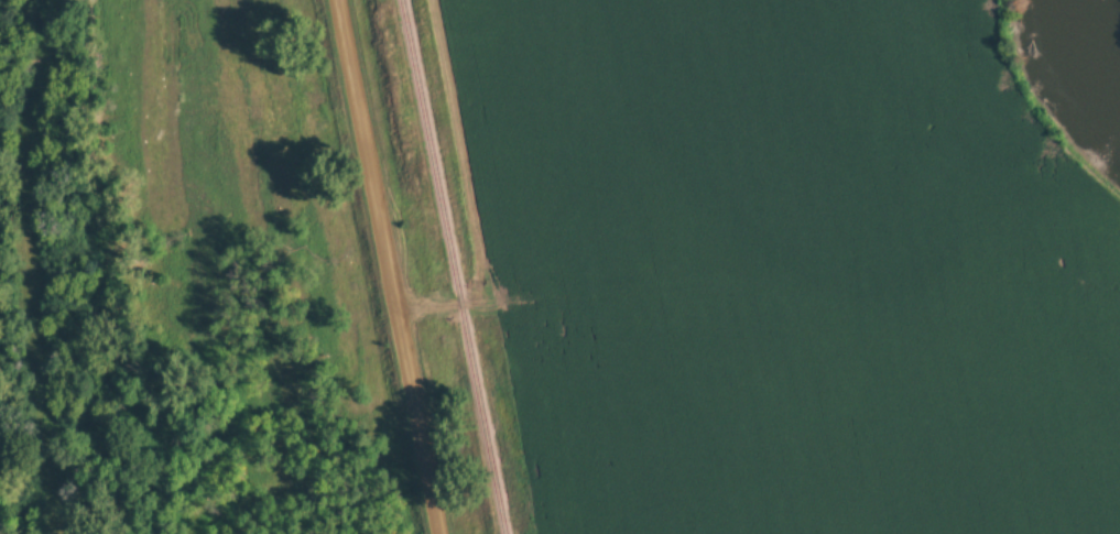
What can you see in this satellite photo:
river: (1116, 28)
road: (388, 266)
railway: (453, 266)
road: (457, 304)

